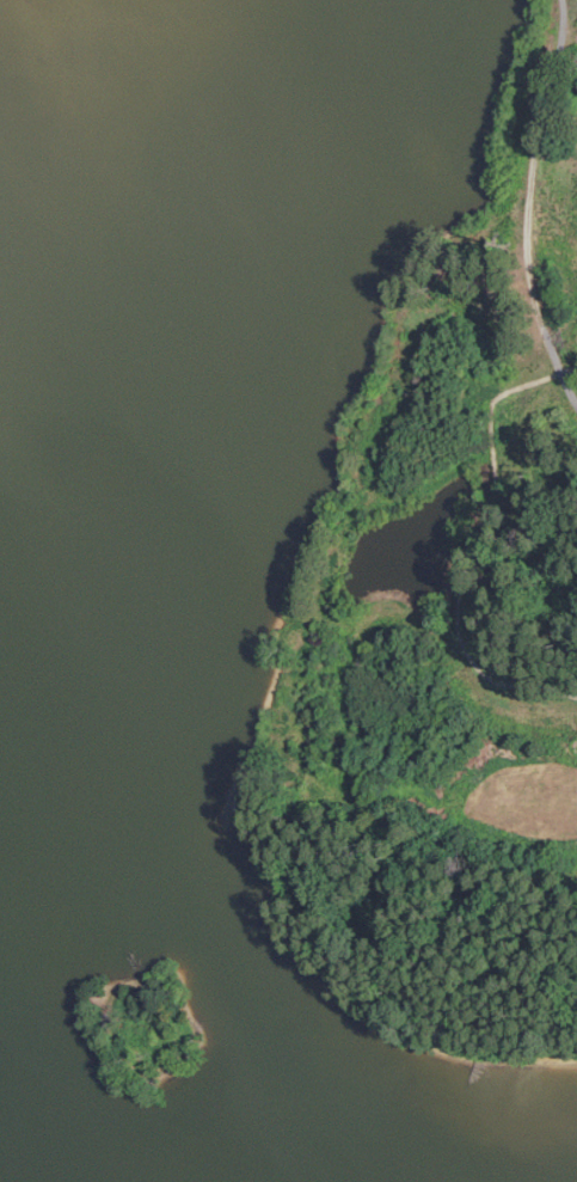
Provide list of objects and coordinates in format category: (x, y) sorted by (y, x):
road: (528, 202)

